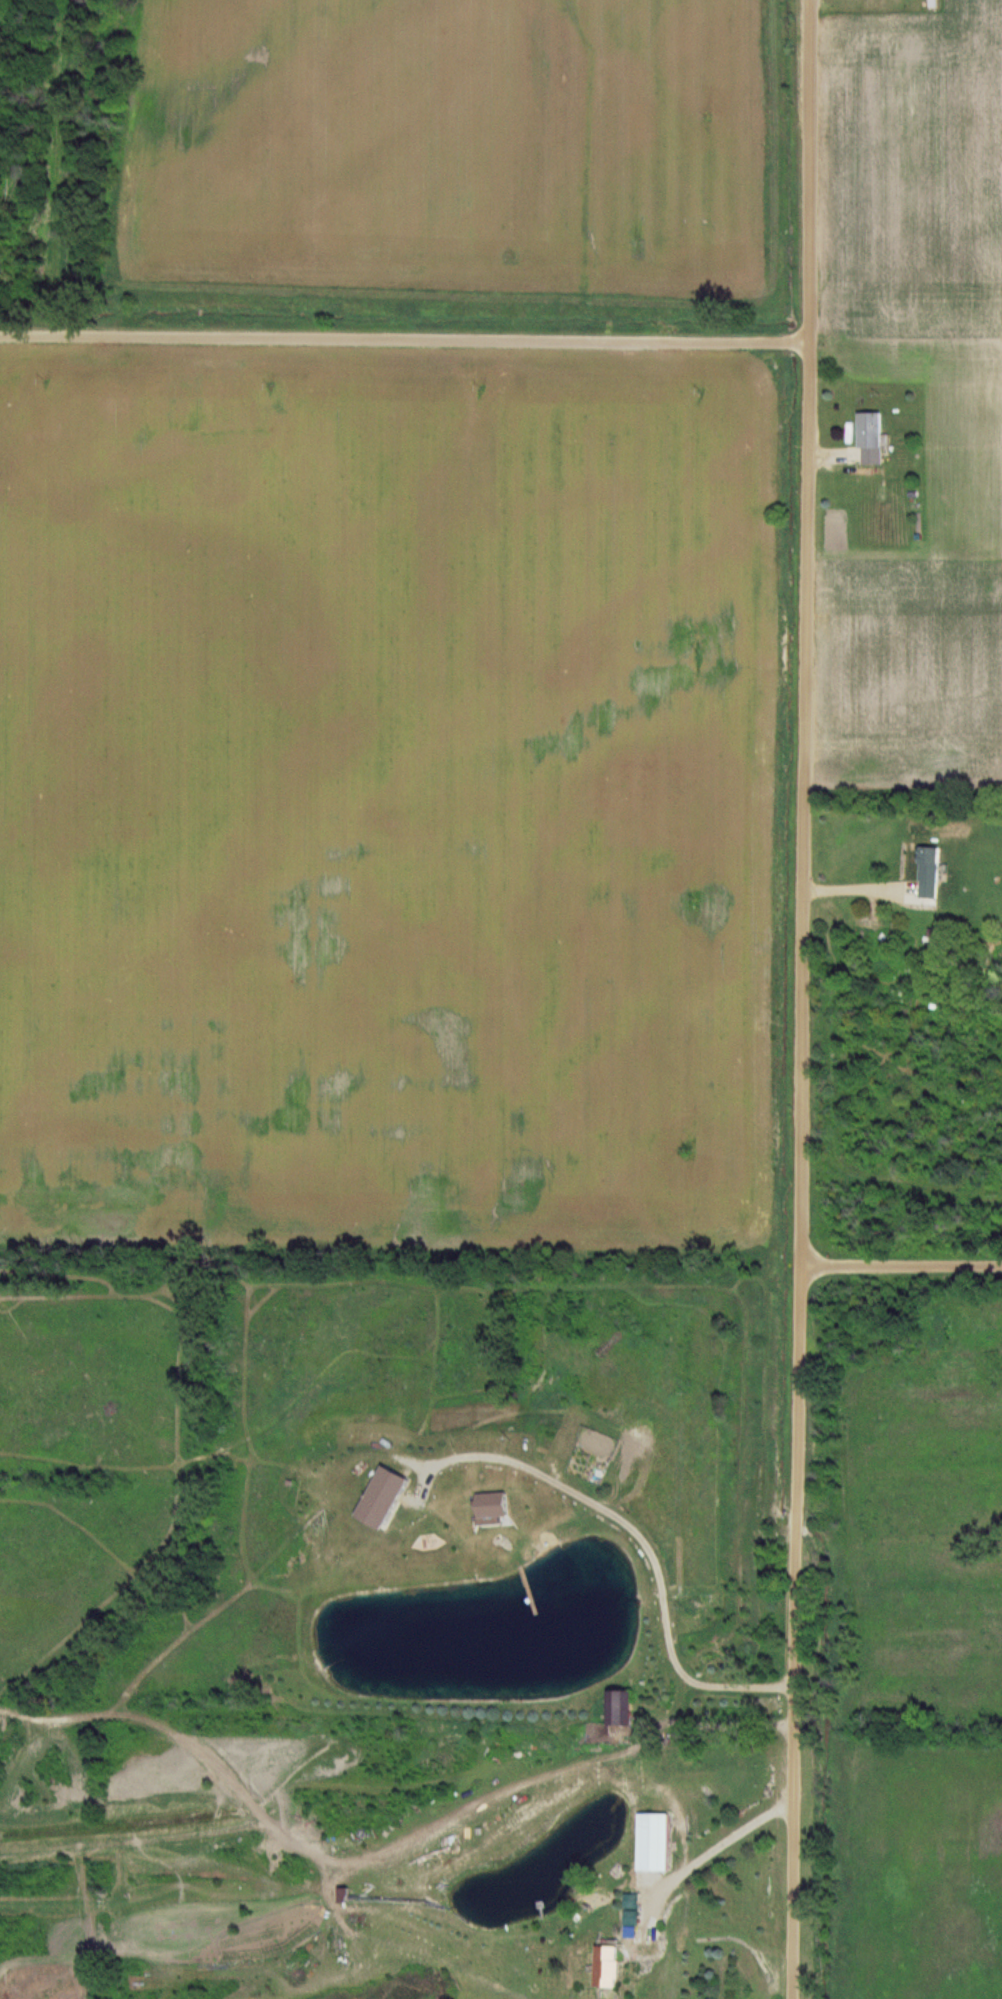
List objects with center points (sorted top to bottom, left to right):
road: (404, 338)
building: (873, 439)
building: (933, 872)
road: (863, 896)
road: (800, 999)
road: (900, 1267)
building: (391, 1497)
road: (640, 1534)
building: (629, 1709)
building: (658, 1843)
road: (702, 1858)
building: (612, 1967)

